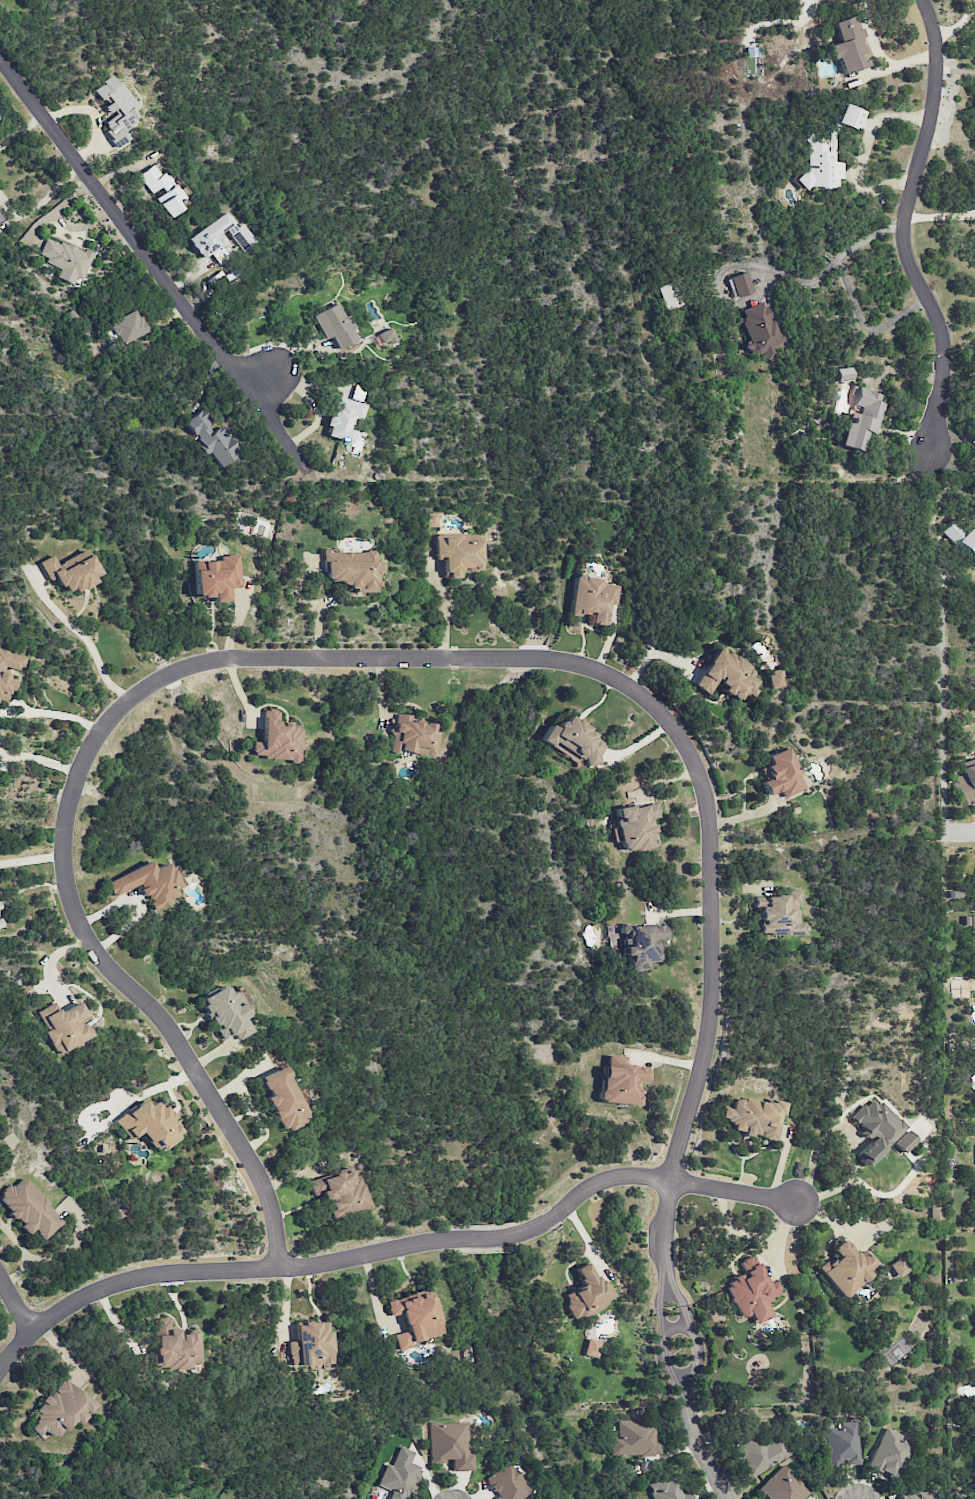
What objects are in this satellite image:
road: (959, 23)
building: (848, 46)
building: (116, 109)
building: (848, 117)
building: (0, 119)
road: (21, 129)
building: (819, 165)
road: (40, 201)
building: (1, 217)
road: (903, 226)
building: (218, 238)
building: (65, 259)
road: (153, 265)
road: (775, 268)
building: (740, 284)
building: (669, 296)
road: (863, 325)
building: (334, 326)
building: (123, 328)
building: (760, 330)
building: (386, 337)
building: (840, 375)
road: (264, 383)
building: (344, 418)
building: (862, 418)
building: (212, 440)
building: (432, 520)
building: (962, 538)
building: (456, 555)
building: (352, 569)
building: (70, 573)
building: (217, 577)
building: (594, 598)
road: (80, 634)
road: (943, 640)
road: (310, 656)
building: (7, 671)
building: (727, 675)
building: (775, 679)
road: (51, 713)
building: (413, 736)
building: (277, 739)
building: (576, 740)
road: (39, 760)
building: (781, 774)
building: (966, 781)
building: (635, 826)
road: (961, 832)
road: (30, 859)
building: (149, 883)
building: (779, 915)
building: (969, 921)
building: (1, 924)
building: (641, 944)
building: (225, 1013)
building: (62, 1026)
building: (621, 1081)
building: (282, 1100)
building: (753, 1117)
building: (149, 1124)
building: (876, 1129)
building: (905, 1141)
road: (847, 1147)
building: (339, 1193)
building: (29, 1209)
road: (664, 1223)
road: (394, 1246)
building: (846, 1268)
building: (898, 1268)
building: (751, 1292)
building: (587, 1293)
road: (677, 1296)
road: (658, 1299)
road: (15, 1304)
building: (414, 1318)
road: (674, 1327)
building: (310, 1344)
building: (174, 1347)
building: (591, 1348)
road: (696, 1358)
road: (662, 1363)
building: (61, 1409)
building: (634, 1438)
building: (841, 1444)
building: (449, 1445)
road: (700, 1447)
building: (888, 1453)
building: (761, 1454)
building: (398, 1475)
building: (507, 1483)
building: (782, 1486)
building: (667, 1490)
building: (915, 1496)

